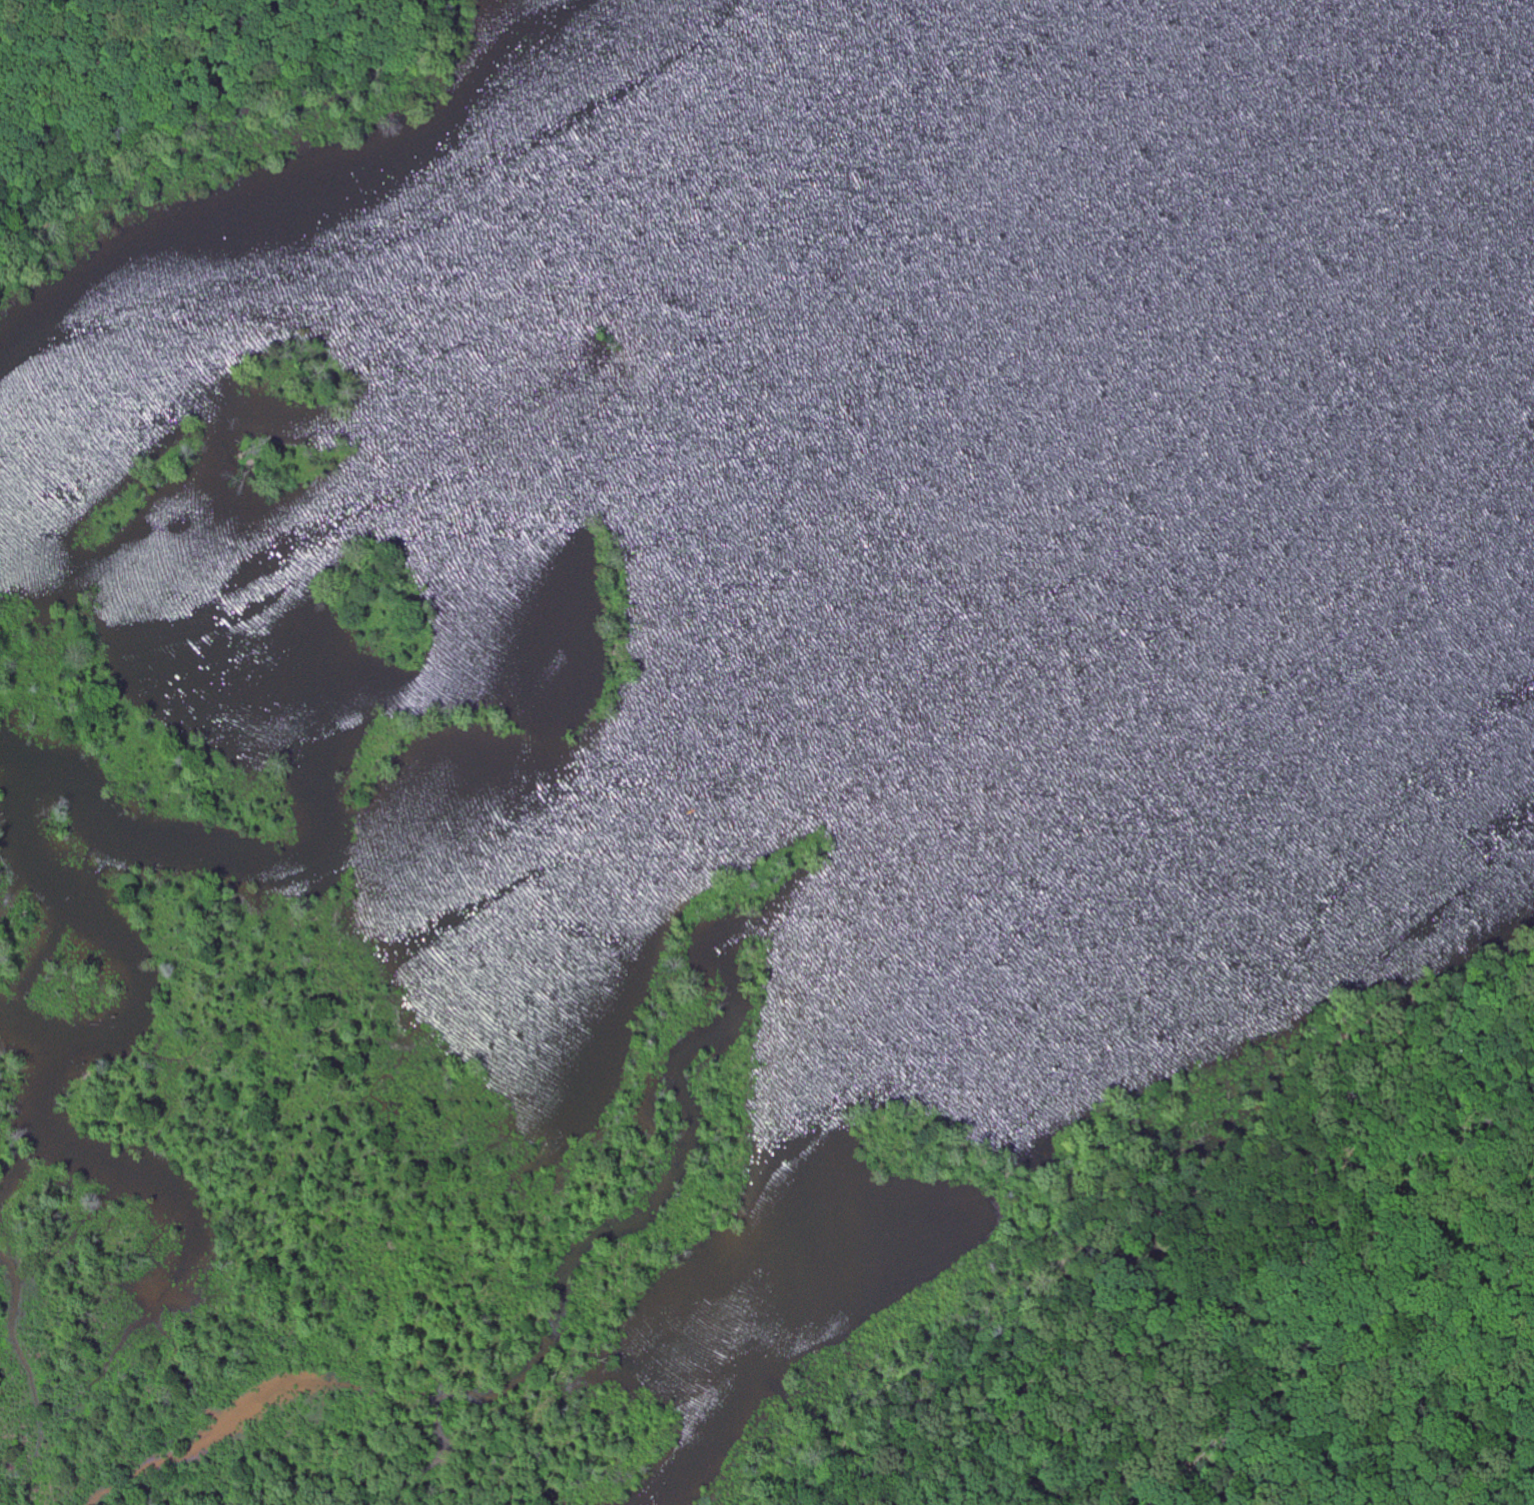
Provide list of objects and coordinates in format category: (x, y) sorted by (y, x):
river: (136, 953)
road: (971, 1421)

